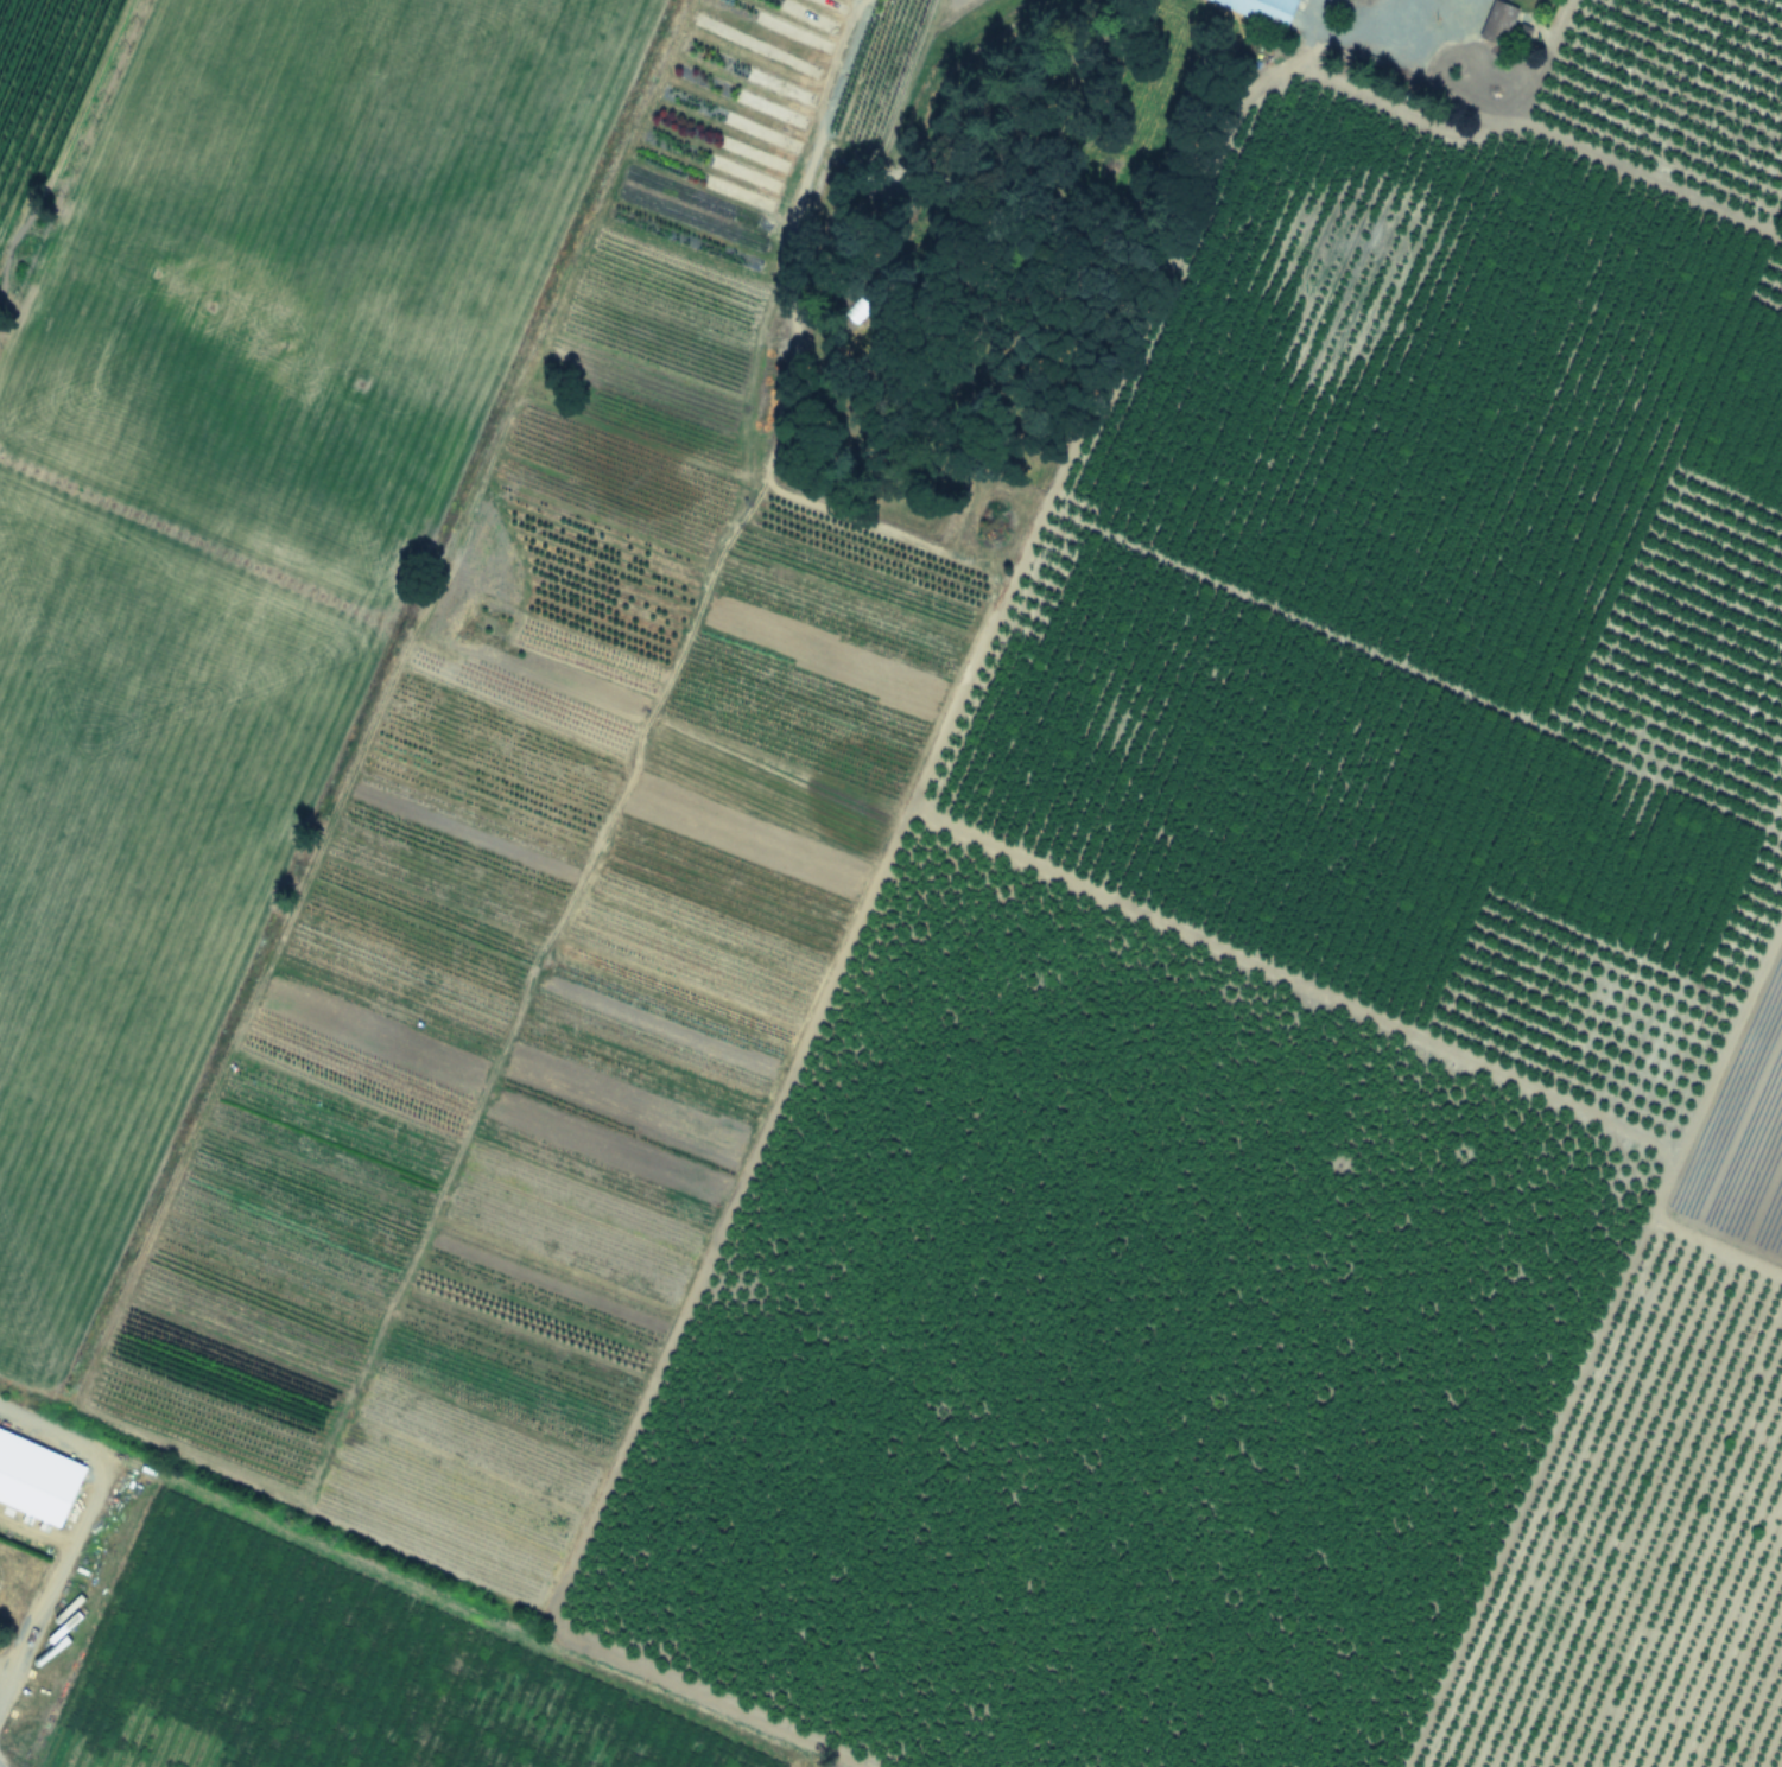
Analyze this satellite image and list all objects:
building: (1258, 9)
building: (526, 21)
building: (1495, 24)
building: (383, 53)
building: (280, 104)
building: (135, 553)
building: (297, 680)
building: (191, 846)
crop: (890, 883)
building: (45, 997)
road: (76, 1527)

